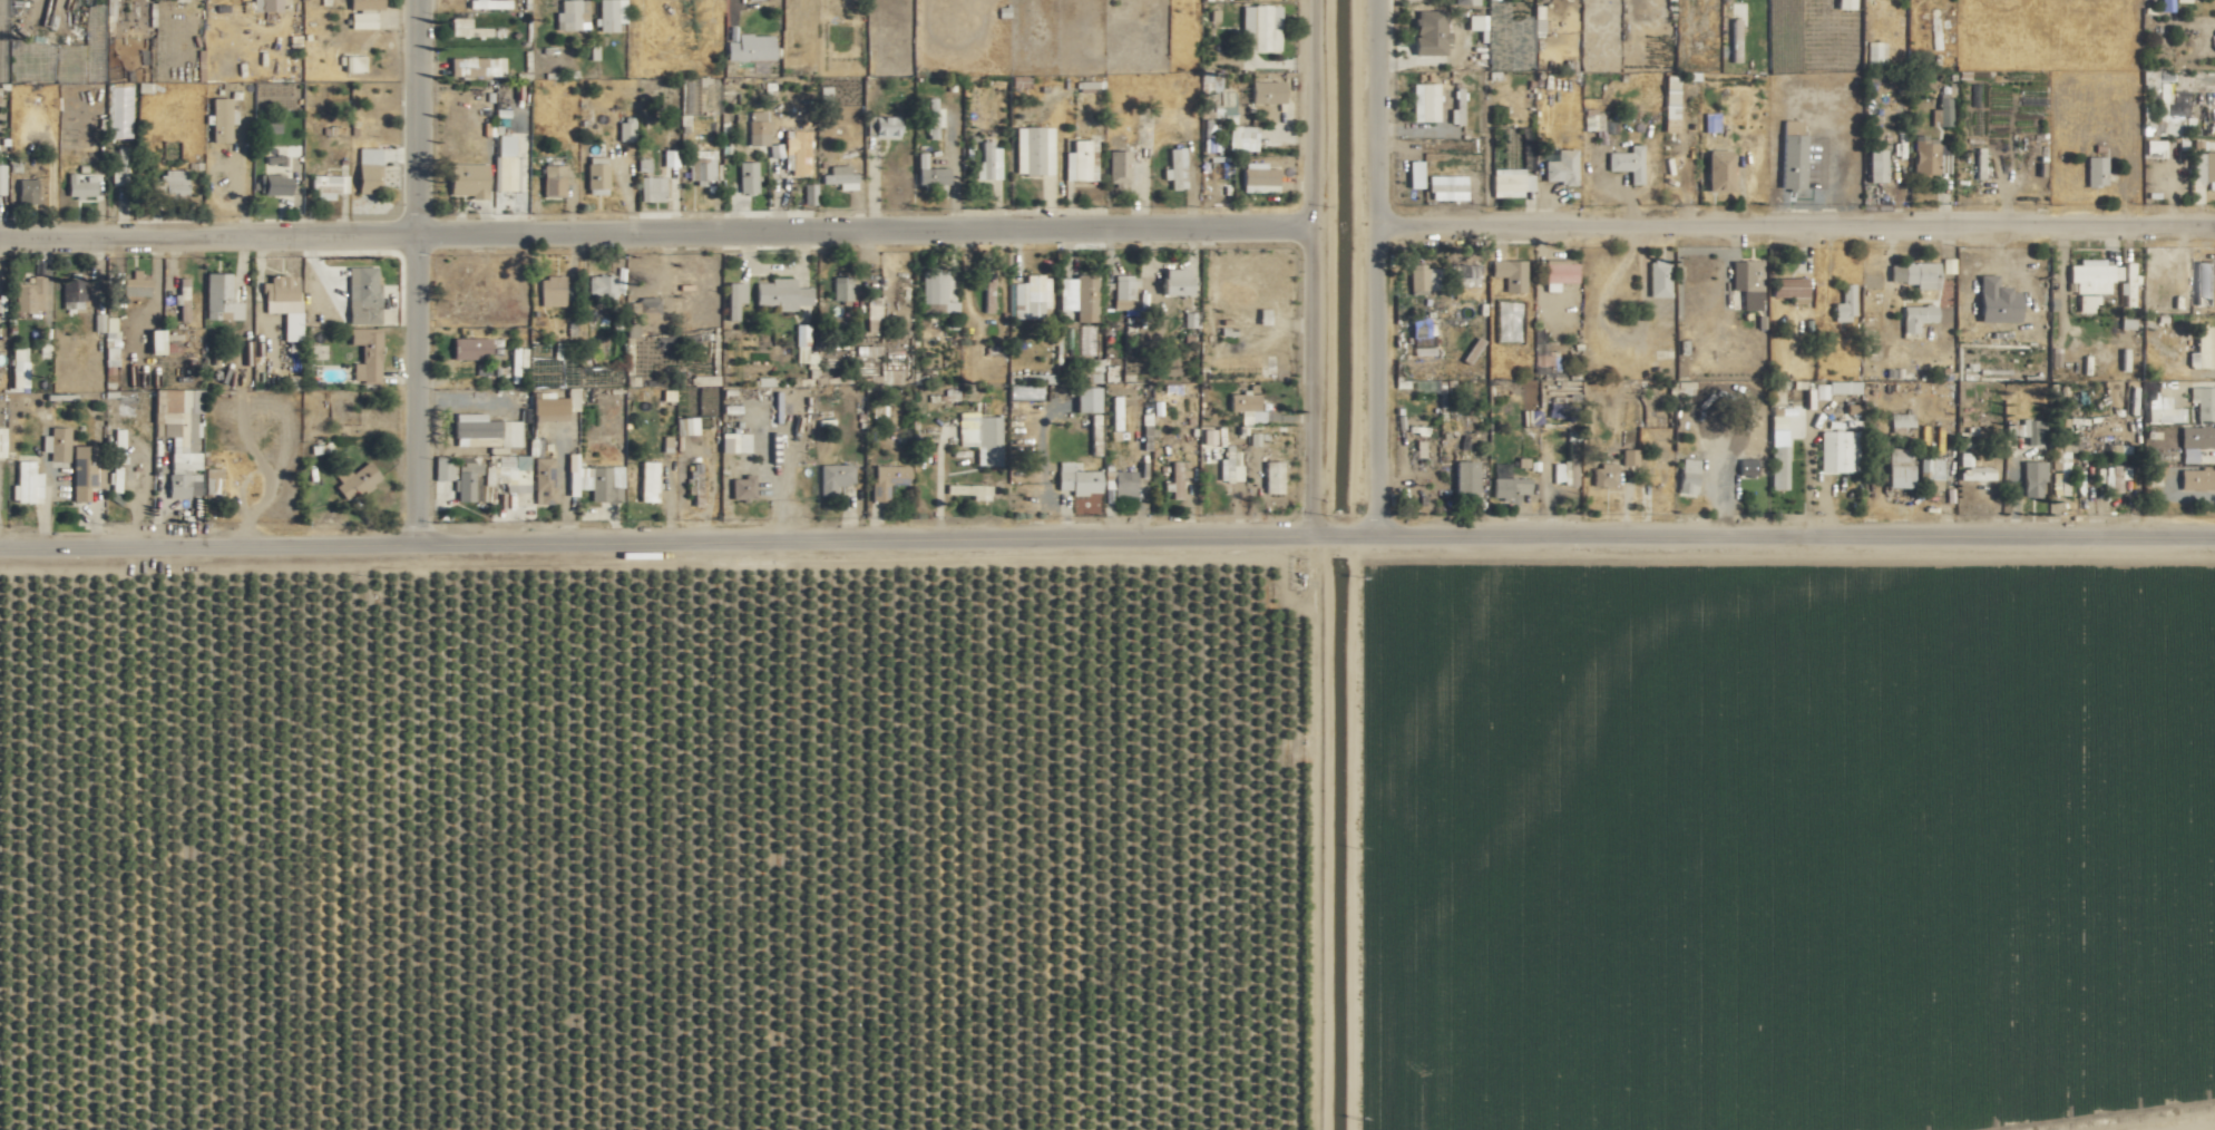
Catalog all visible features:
building: (1473, 2)
building: (491, 3)
building: (1845, 3)
building: (266, 4)
road: (732, 10)
building: (363, 13)
building: (572, 14)
building: (609, 14)
building: (1476, 21)
building: (1935, 21)
building: (1262, 26)
building: (467, 28)
building: (1429, 32)
building: (1735, 40)
building: (751, 47)
building: (1875, 52)
building: (94, 62)
building: (352, 64)
building: (477, 66)
building: (1268, 91)
building: (0, 95)
building: (1219, 96)
building: (1425, 101)
building: (1671, 103)
building: (1457, 107)
building: (1944, 111)
road: (418, 117)
building: (934, 117)
building: (222, 119)
building: (1144, 125)
building: (886, 126)
building: (2170, 126)
building: (270, 127)
building: (626, 129)
building: (759, 130)
building: (1209, 131)
building: (1241, 138)
building: (505, 144)
building: (1897, 147)
building: (2155, 148)
building: (1033, 149)
building: (796, 150)
building: (1793, 154)
building: (1924, 156)
building: (670, 157)
building: (275, 159)
building: (1081, 160)
building: (988, 162)
building: (1628, 163)
building: (643, 164)
building: (118, 165)
building: (1121, 165)
building: (1876, 165)
building: (703, 166)
building: (1171, 166)
building: (2203, 166)
building: (368, 167)
building: (1561, 167)
building: (1720, 171)
building: (2096, 171)
building: (930, 172)
building: (506, 173)
building: (597, 174)
road: (235, 175)
building: (748, 176)
building: (840, 177)
building: (1259, 177)
building: (1, 178)
building: (468, 179)
building: (554, 179)
building: (173, 181)
building: (1511, 182)
building: (273, 184)
building: (80, 185)
building: (328, 185)
building: (652, 188)
building: (1450, 191)
building: (27, 192)
road: (1795, 225)
road: (655, 232)
road: (1313, 267)
road: (1375, 267)
building: (1560, 273)
building: (1511, 274)
building: (1919, 274)
building: (1466, 275)
building: (1659, 276)
building: (1424, 277)
building: (1177, 281)
building: (2092, 281)
building: (2205, 283)
building: (136, 284)
building: (601, 285)
building: (2128, 285)
building: (934, 286)
building: (280, 288)
building: (841, 288)
building: (1790, 289)
building: (552, 291)
building: (988, 291)
building: (1124, 292)
building: (72, 293)
building: (782, 293)
building: (29, 294)
building: (363, 294)
building: (1079, 295)
building: (1031, 296)
building: (219, 298)
building: (182, 299)
building: (734, 299)
building: (1998, 301)
building: (1844, 304)
building: (648, 310)
building: (872, 313)
building: (1918, 316)
building: (1419, 328)
building: (2126, 332)
building: (156, 341)
building: (801, 342)
building: (471, 348)
building: (2203, 348)
building: (2162, 350)
building: (1544, 352)
building: (367, 353)
building: (2126, 362)
building: (517, 364)
building: (18, 368)
building: (1843, 387)
road: (413, 388)
building: (1775, 391)
building: (1087, 399)
building: (2203, 402)
building: (1245, 405)
building: (556, 406)
building: (2164, 410)
building: (1848, 417)
building: (1900, 421)
building: (687, 426)
building: (2032, 430)
building: (180, 436)
building: (1219, 436)
building: (980, 437)
building: (1207, 437)
building: (1, 441)
building: (729, 441)
building: (2195, 441)
building: (58, 444)
building: (1838, 451)
building: (1629, 457)
building: (1230, 465)
building: (1565, 467)
building: (1747, 467)
building: (1778, 467)
building: (1900, 467)
building: (2059, 468)
building: (1972, 469)
building: (86, 470)
building: (1930, 474)
building: (1603, 475)
building: (1178, 476)
building: (833, 477)
building: (1272, 477)
building: (1688, 477)
building: (2114, 477)
building: (1466, 478)
building: (2033, 478)
building: (113, 479)
building: (354, 479)
building: (888, 479)
building: (1077, 479)
building: (2197, 479)
building: (213, 480)
building: (544, 480)
building: (648, 480)
building: (467, 481)
building: (597, 481)
building: (26, 483)
building: (1120, 483)
building: (1511, 486)
building: (743, 488)
building: (696, 490)
building: (969, 490)
road: (1320, 535)
road: (1340, 535)
road: (1367, 535)
road: (1797, 535)
road: (656, 540)

